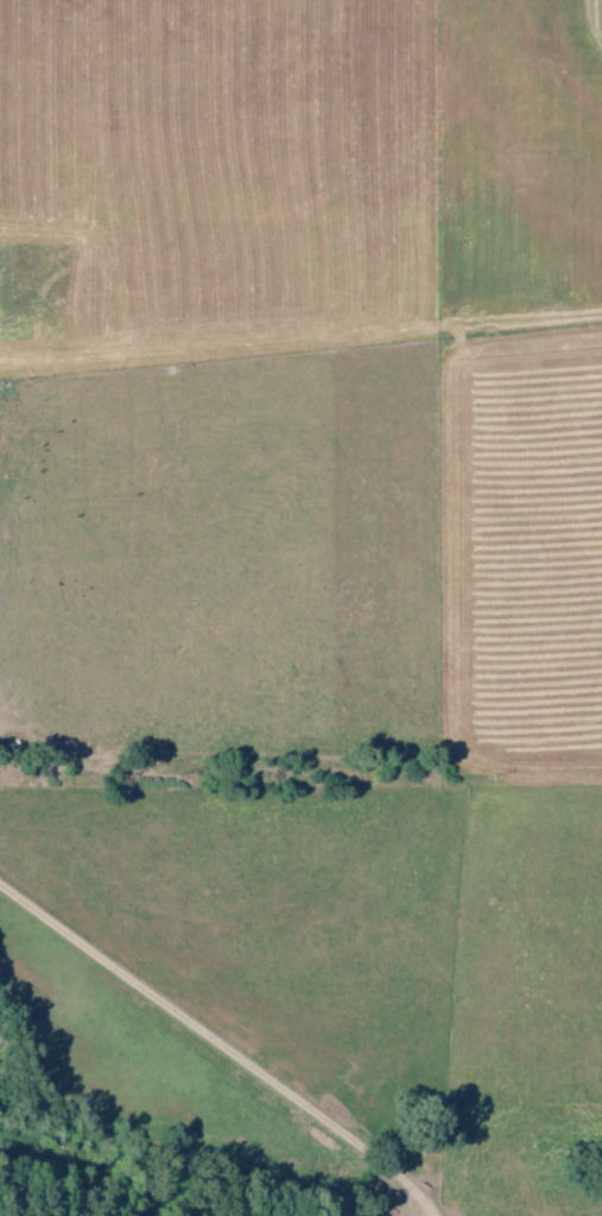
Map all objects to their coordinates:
road: (222, 1045)

